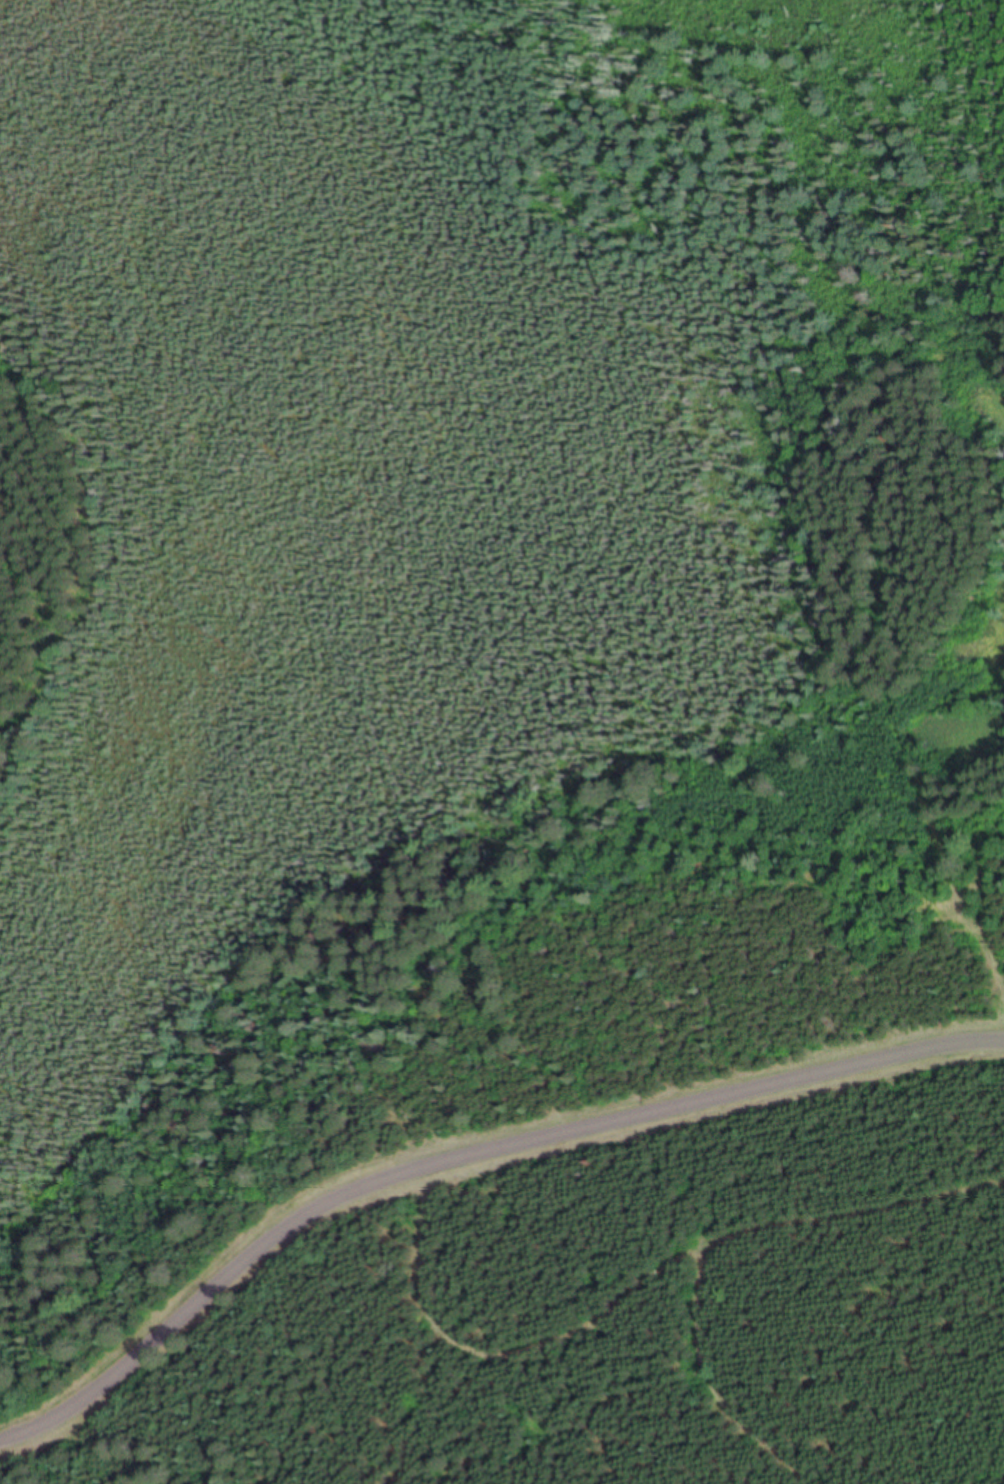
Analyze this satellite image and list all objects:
road: (463, 1165)

